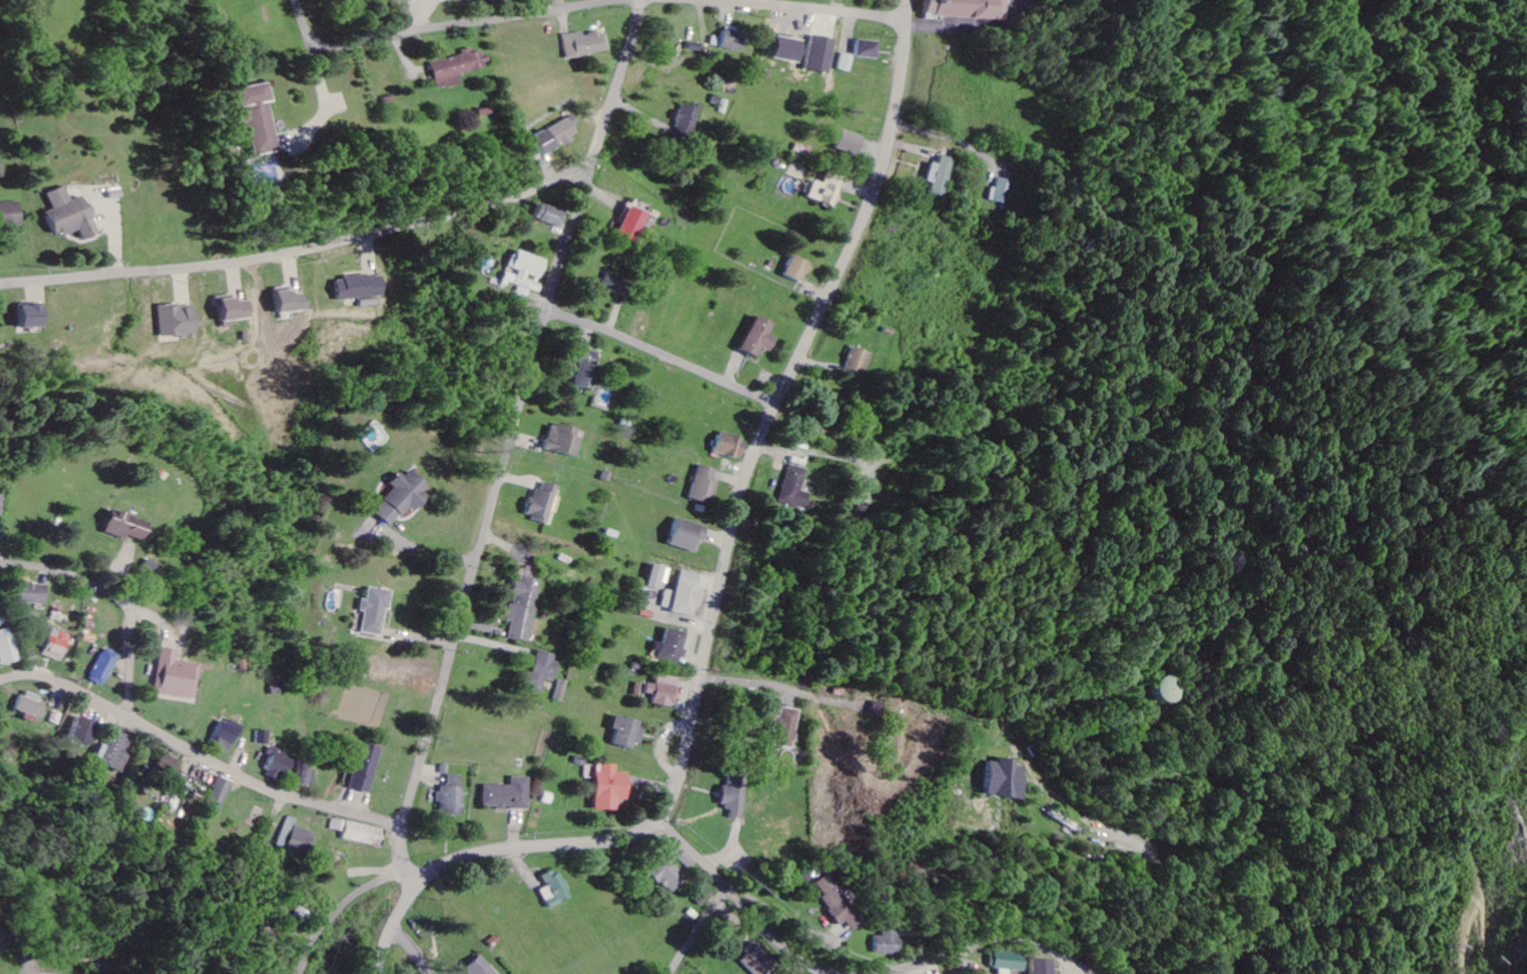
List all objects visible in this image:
building: (461, 0)
road: (806, 8)
building: (970, 9)
road: (449, 26)
building: (733, 40)
building: (584, 44)
building: (872, 49)
building: (850, 62)
building: (457, 68)
building: (483, 114)
building: (256, 119)
building: (688, 119)
building: (559, 136)
building: (854, 143)
building: (941, 176)
building: (1001, 191)
building: (827, 193)
building: (11, 215)
building: (71, 215)
building: (552, 216)
building: (633, 223)
road: (297, 251)
building: (800, 270)
building: (528, 271)
building: (619, 285)
building: (364, 288)
building: (293, 303)
building: (237, 310)
building: (33, 318)
building: (181, 322)
building: (761, 338)
road: (631, 339)
building: (857, 363)
building: (588, 377)
road: (519, 417)
building: (567, 440)
building: (732, 446)
building: (704, 485)
building: (796, 489)
building: (405, 496)
building: (547, 501)
building: (1, 505)
building: (127, 525)
building: (689, 535)
road: (723, 572)
building: (659, 577)
building: (34, 593)
building: (686, 594)
road: (116, 598)
building: (526, 605)
building: (376, 611)
building: (58, 645)
building: (9, 646)
building: (675, 646)
building: (106, 667)
building: (544, 670)
building: (177, 675)
building: (1157, 689)
building: (564, 690)
building: (665, 690)
building: (33, 704)
building: (787, 727)
building: (85, 730)
building: (630, 731)
building: (227, 734)
building: (264, 736)
building: (117, 751)
road: (201, 755)
building: (170, 763)
building: (280, 764)
building: (368, 767)
building: (309, 774)
building: (1008, 778)
building: (613, 787)
building: (221, 792)
building: (511, 794)
building: (737, 795)
building: (455, 796)
building: (362, 832)
building: (299, 838)
building: (689, 860)
road: (408, 863)
building: (670, 874)
building: (557, 889)
road: (739, 902)
building: (836, 903)
road: (343, 909)
road: (699, 930)
road: (1013, 932)
building: (3, 938)
building: (883, 943)
road: (412, 951)
building: (759, 959)
building: (1008, 962)
building: (1042, 966)
building: (480, 967)
building: (777, 973)

